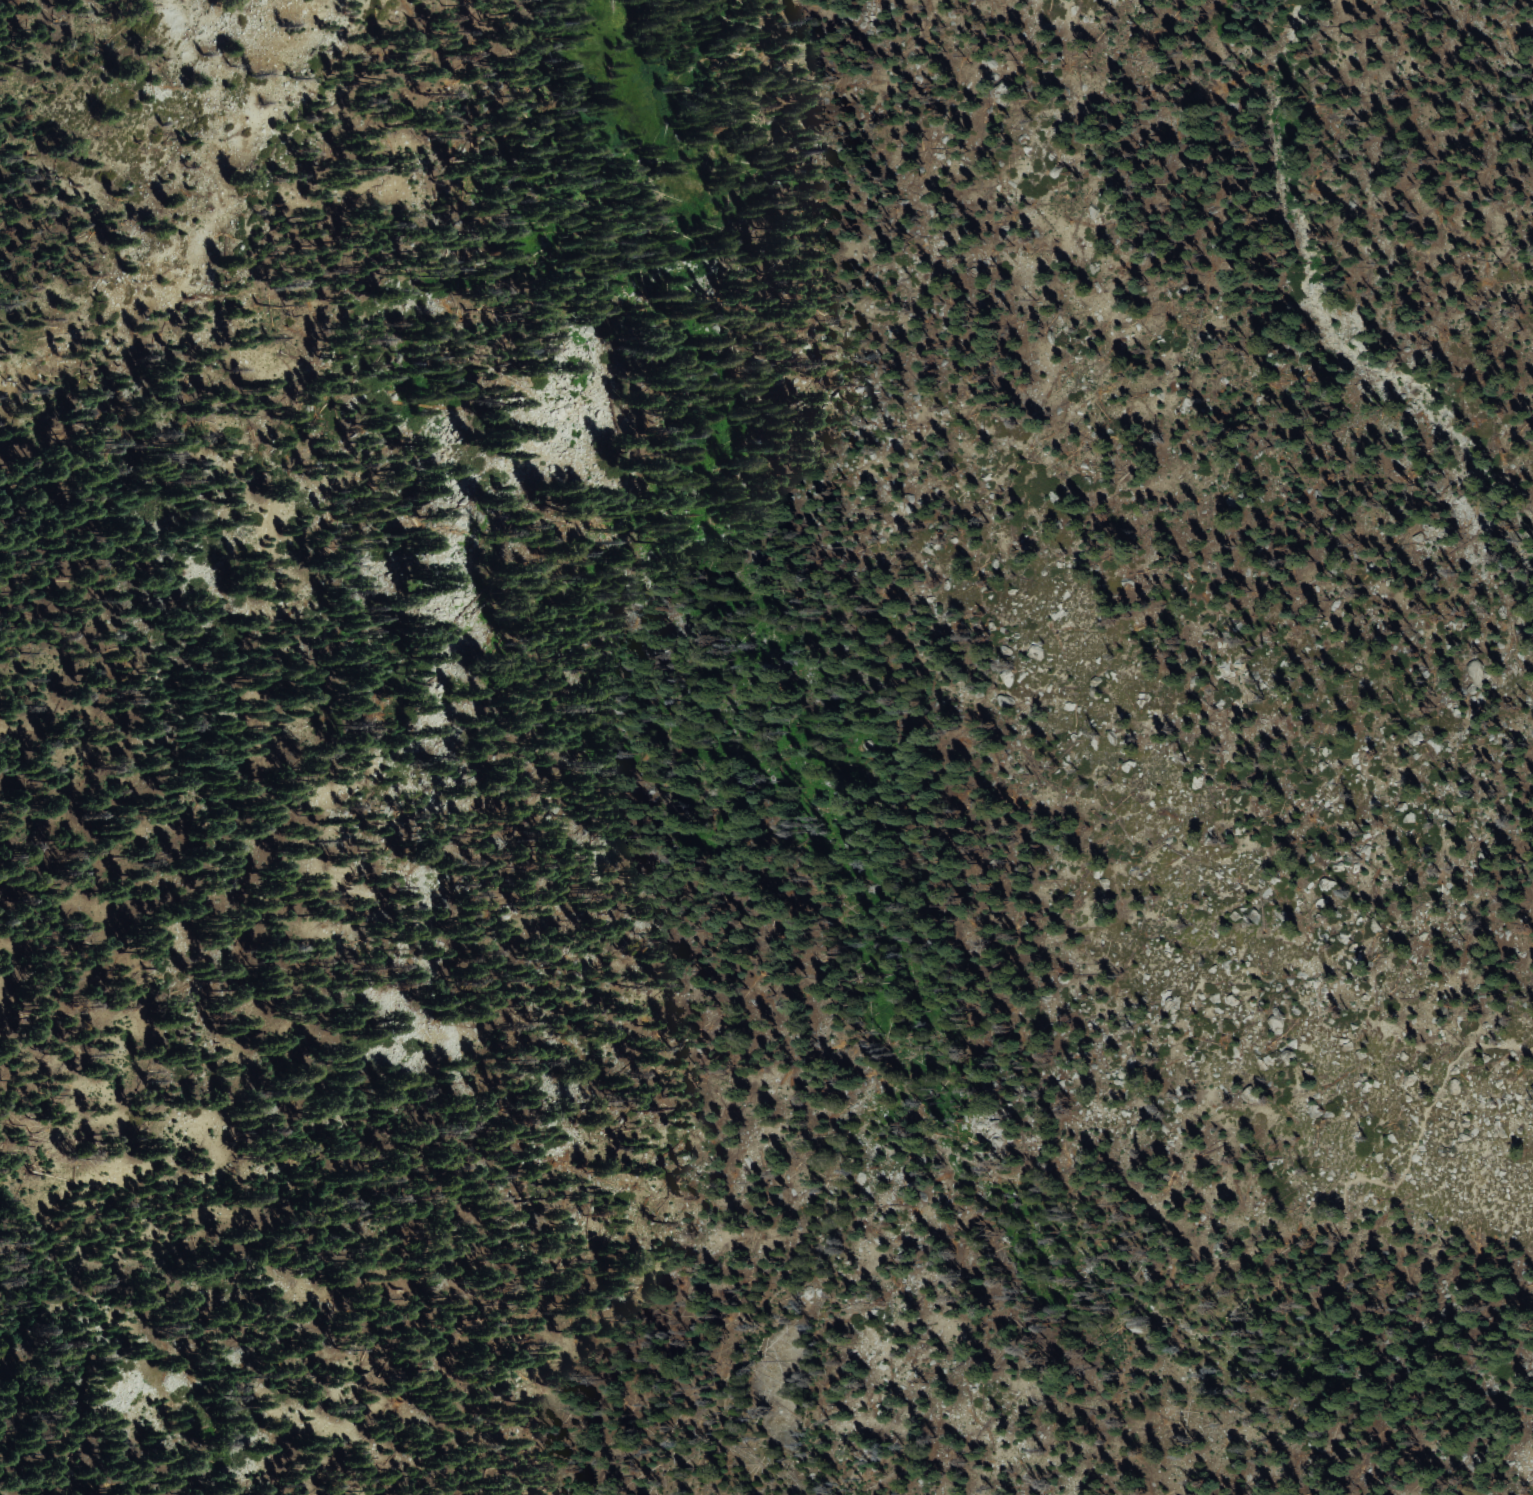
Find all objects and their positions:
road: (822, 993)

